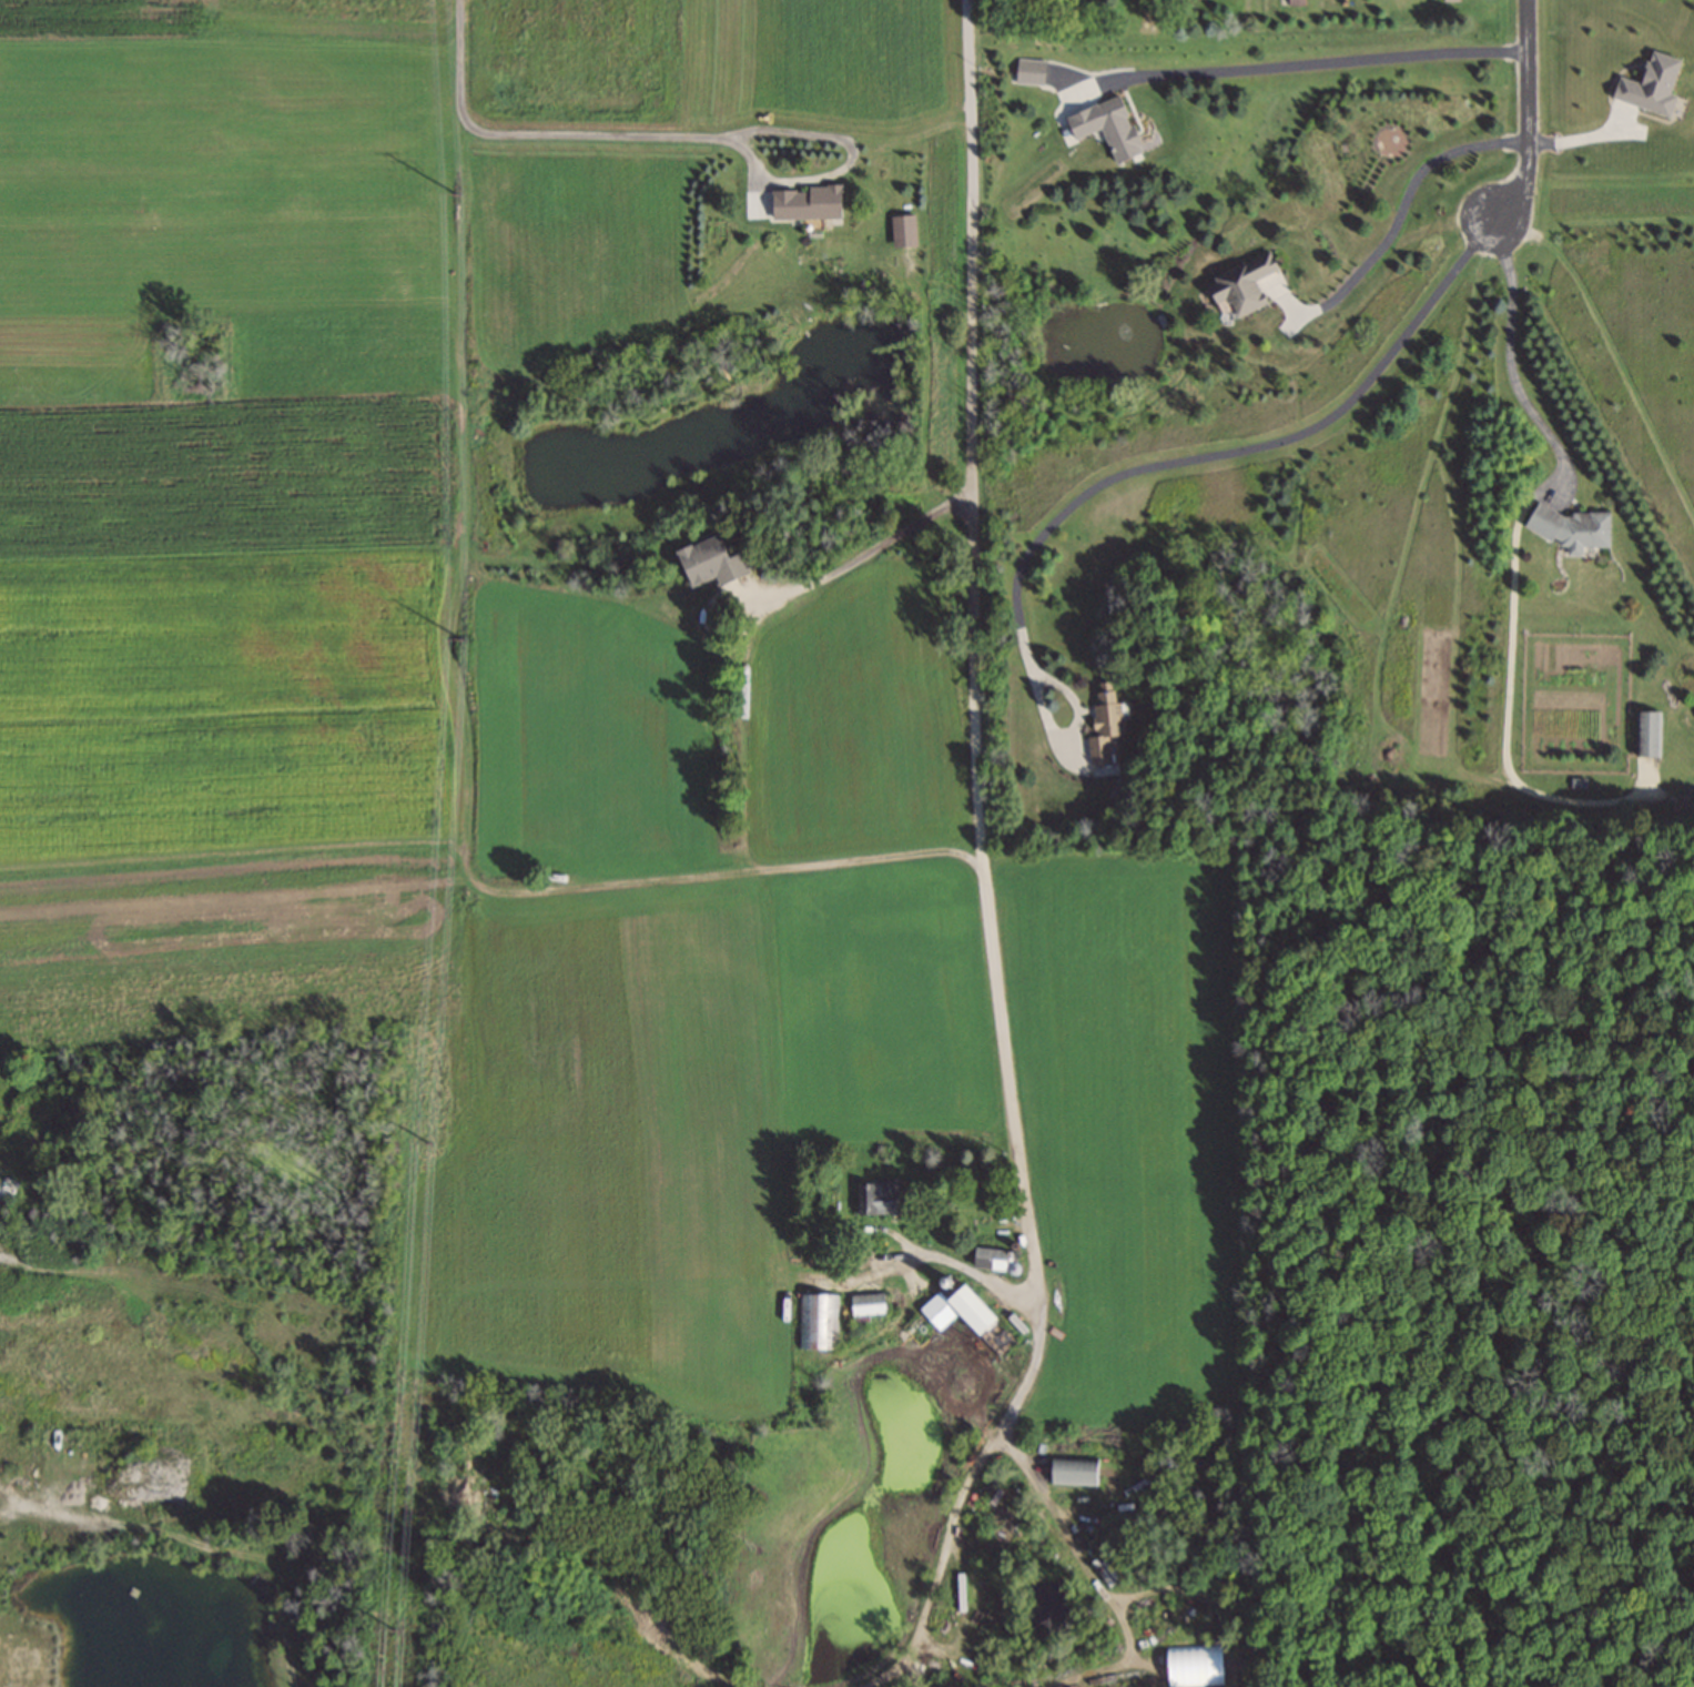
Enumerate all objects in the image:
building: (1450, 1)
building: (1295, 2)
road: (1323, 61)
road: (1525, 117)
road: (534, 134)
road: (1584, 138)
road: (850, 160)
road: (1406, 192)
power tower: (455, 198)
building: (804, 205)
building: (903, 232)
building: (1240, 286)
road: (1512, 357)
road: (1213, 456)
building: (1572, 531)
road: (856, 558)
building: (710, 565)
power tower: (453, 637)
building: (1104, 724)
building: (1647, 734)
road: (978, 870)
power tower: (422, 1142)
building: (878, 1199)
building: (990, 1260)
road: (953, 1264)
building: (868, 1305)
building: (970, 1310)
building: (819, 1323)
building: (925, 1323)
building: (1073, 1472)
building: (1106, 1573)
road: (1092, 1576)
power tower: (389, 1630)
building: (1191, 1667)
road: (913, 1670)

